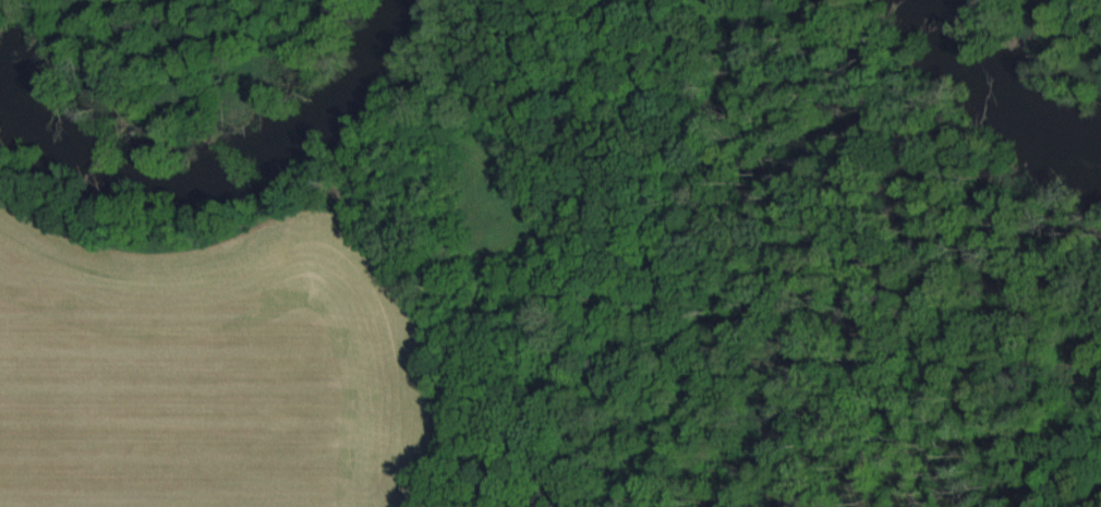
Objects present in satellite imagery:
river: (1000, 90)
river: (215, 178)

